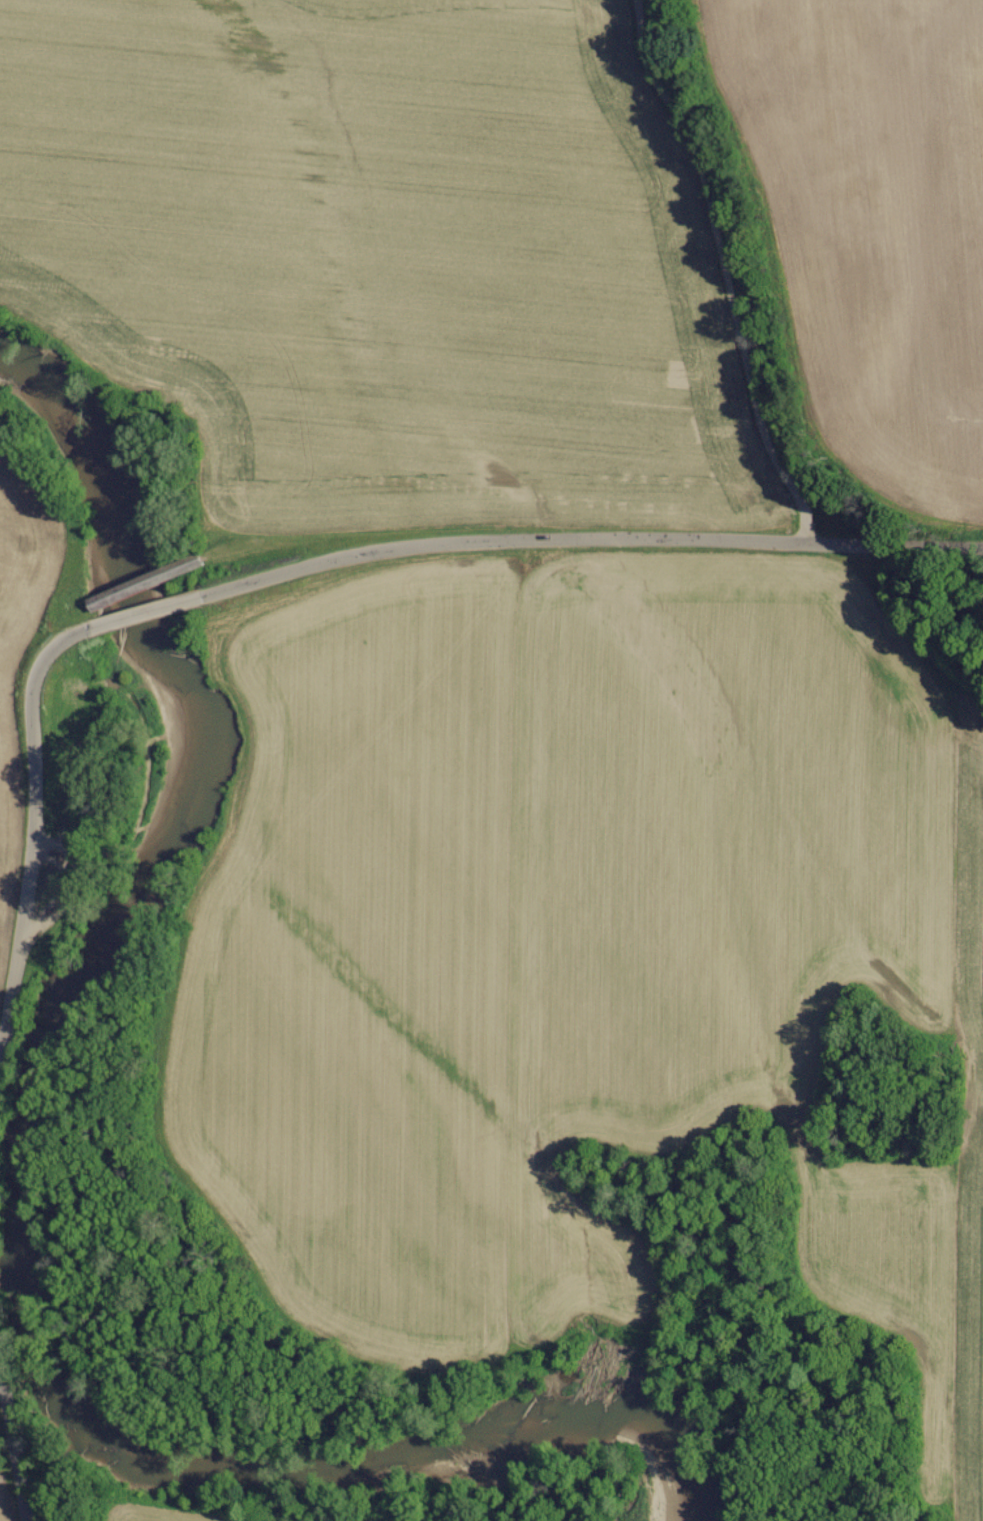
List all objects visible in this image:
road: (717, 270)
river: (100, 473)
road: (588, 538)
road: (149, 579)
road: (147, 613)
road: (69, 618)
road: (34, 833)
road: (61, 888)
river: (50, 1374)
road: (15, 1440)

